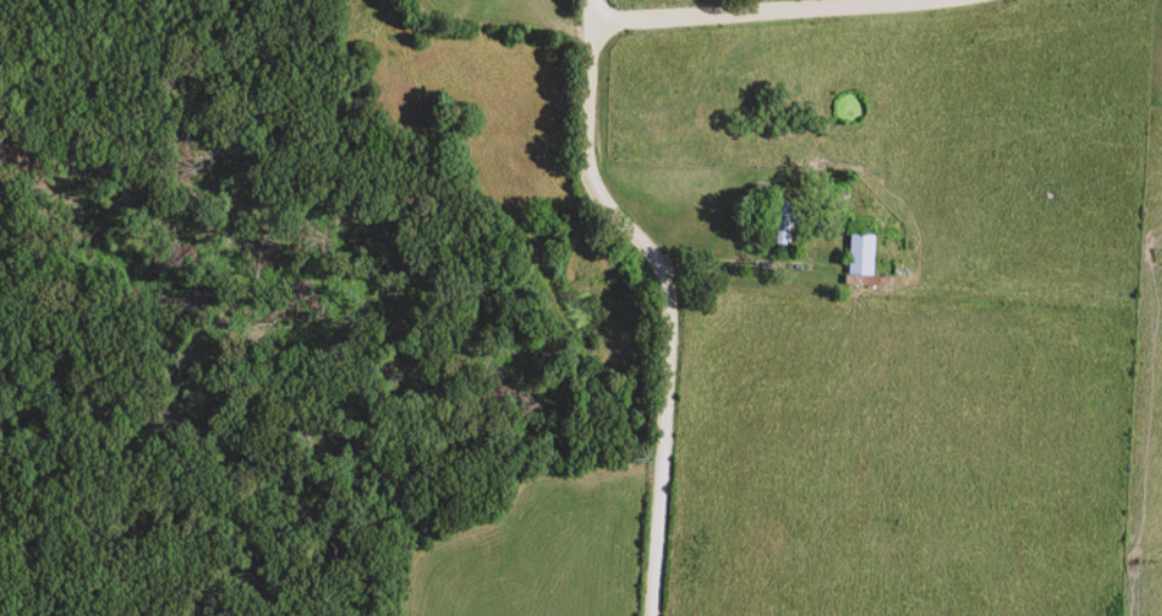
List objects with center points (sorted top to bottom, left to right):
road: (781, 11)
building: (780, 224)
building: (855, 254)
road: (673, 295)

